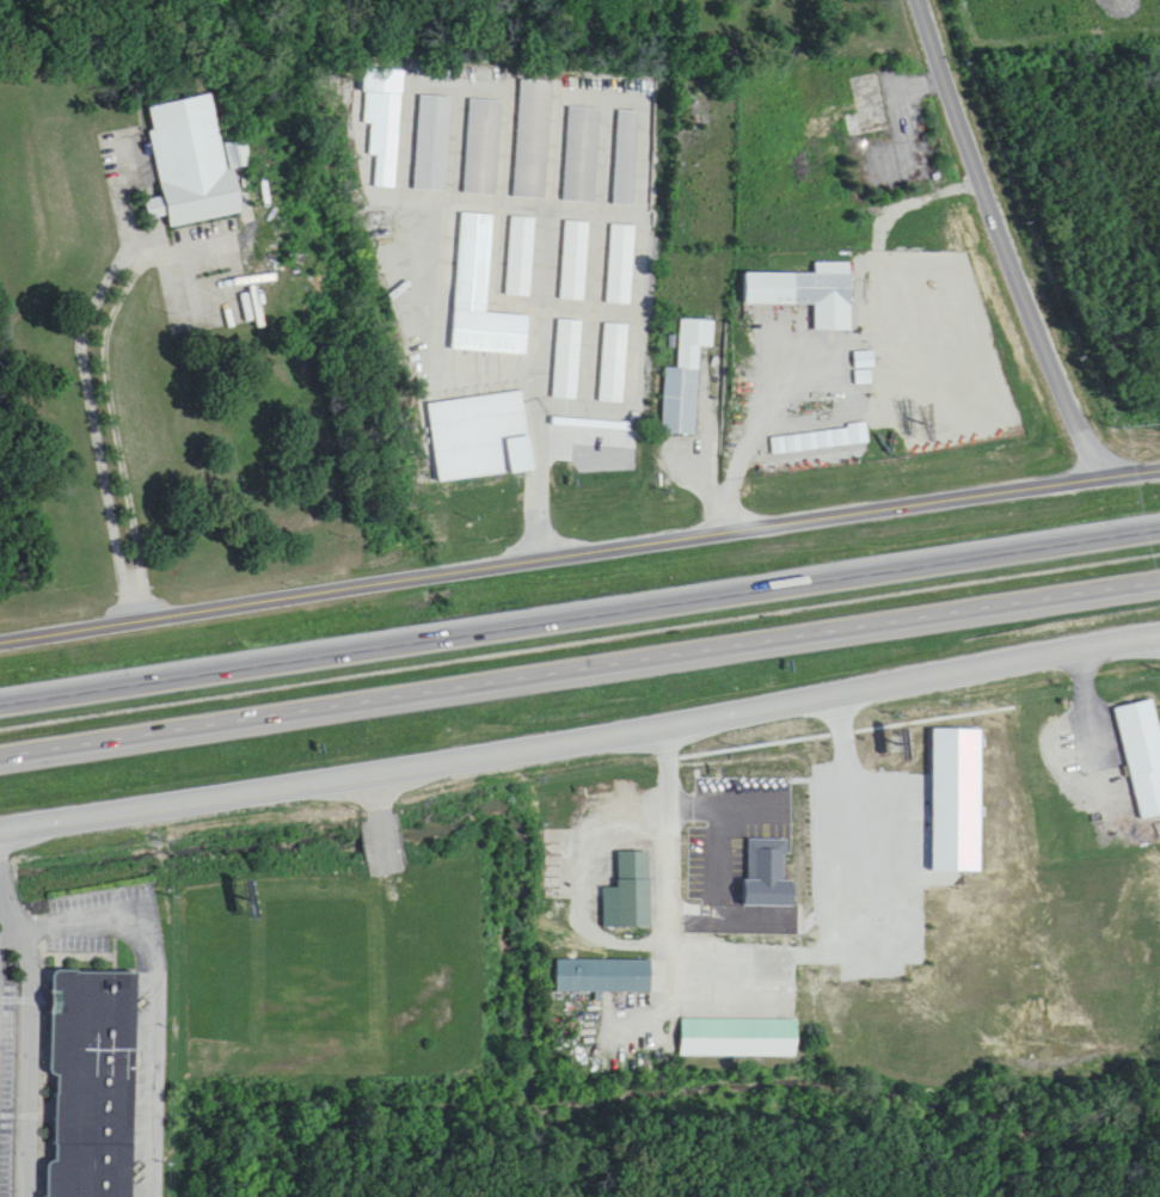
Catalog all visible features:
building: (870, 108)
building: (534, 140)
building: (434, 145)
building: (484, 148)
building: (233, 155)
building: (583, 155)
building: (628, 159)
building: (189, 162)
road: (998, 238)
building: (521, 258)
building: (576, 263)
building: (622, 266)
building: (808, 294)
building: (567, 361)
building: (615, 364)
building: (687, 380)
road: (103, 415)
building: (613, 432)
road: (761, 432)
building: (820, 442)
road: (1136, 456)
road: (705, 459)
road: (535, 475)
road: (779, 510)
road: (223, 594)
road: (579, 619)
road: (579, 674)
road: (1090, 695)
road: (581, 729)
building: (1143, 755)
road: (671, 843)
building: (633, 891)
road: (7, 938)
building: (603, 978)
road: (149, 997)
road: (25, 1033)
building: (739, 1041)
building: (93, 1085)

